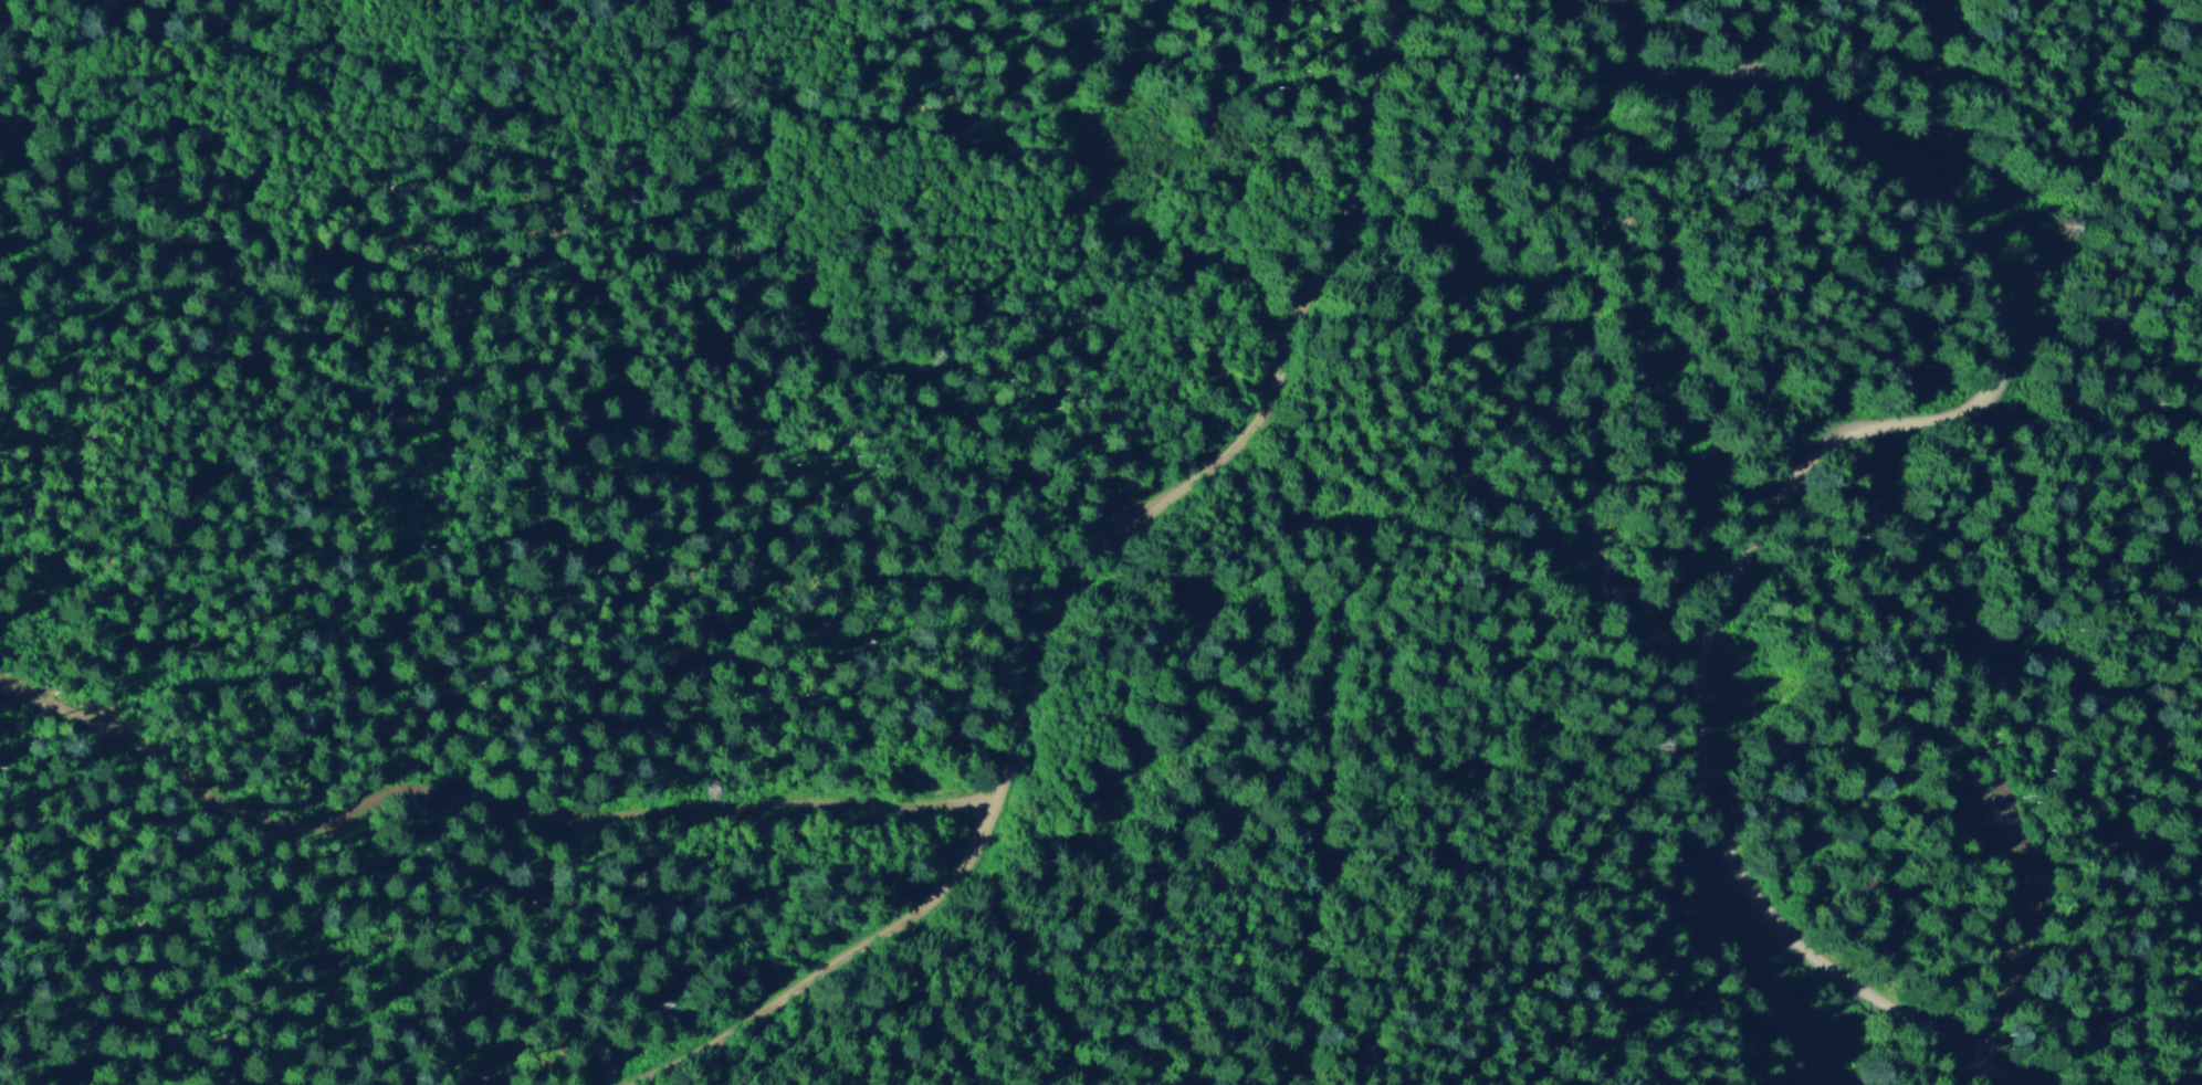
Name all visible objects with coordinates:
road: (1813, 460)
road: (1092, 581)

